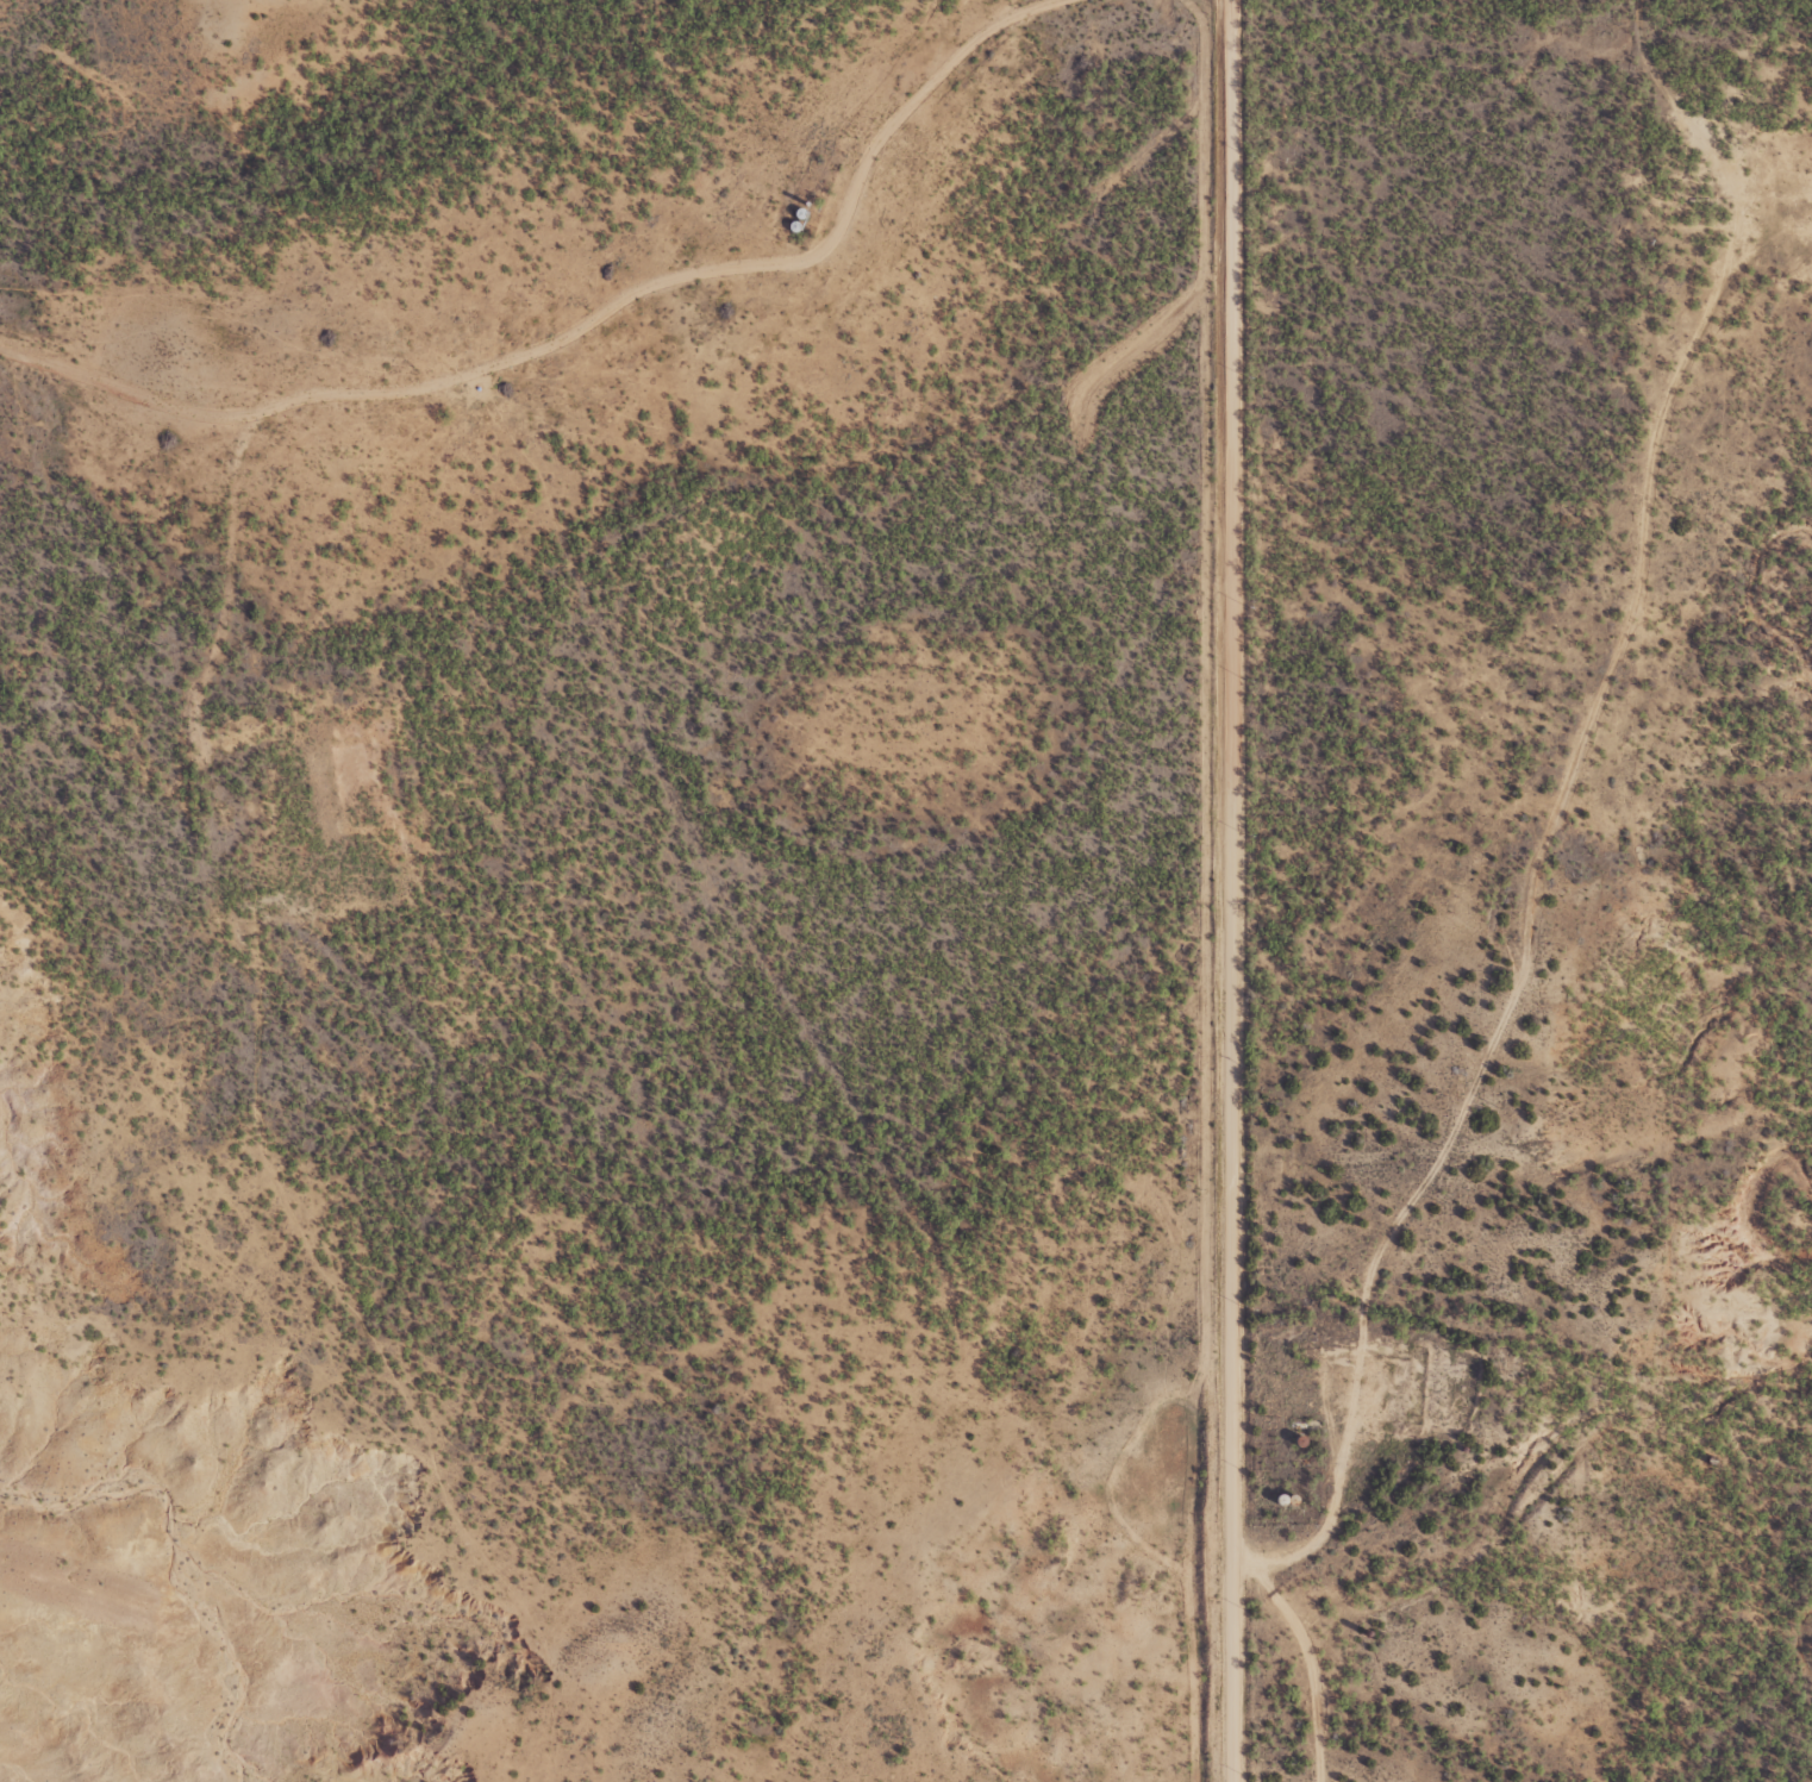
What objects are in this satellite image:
road: (1243, 890)
road: (1341, 1664)

